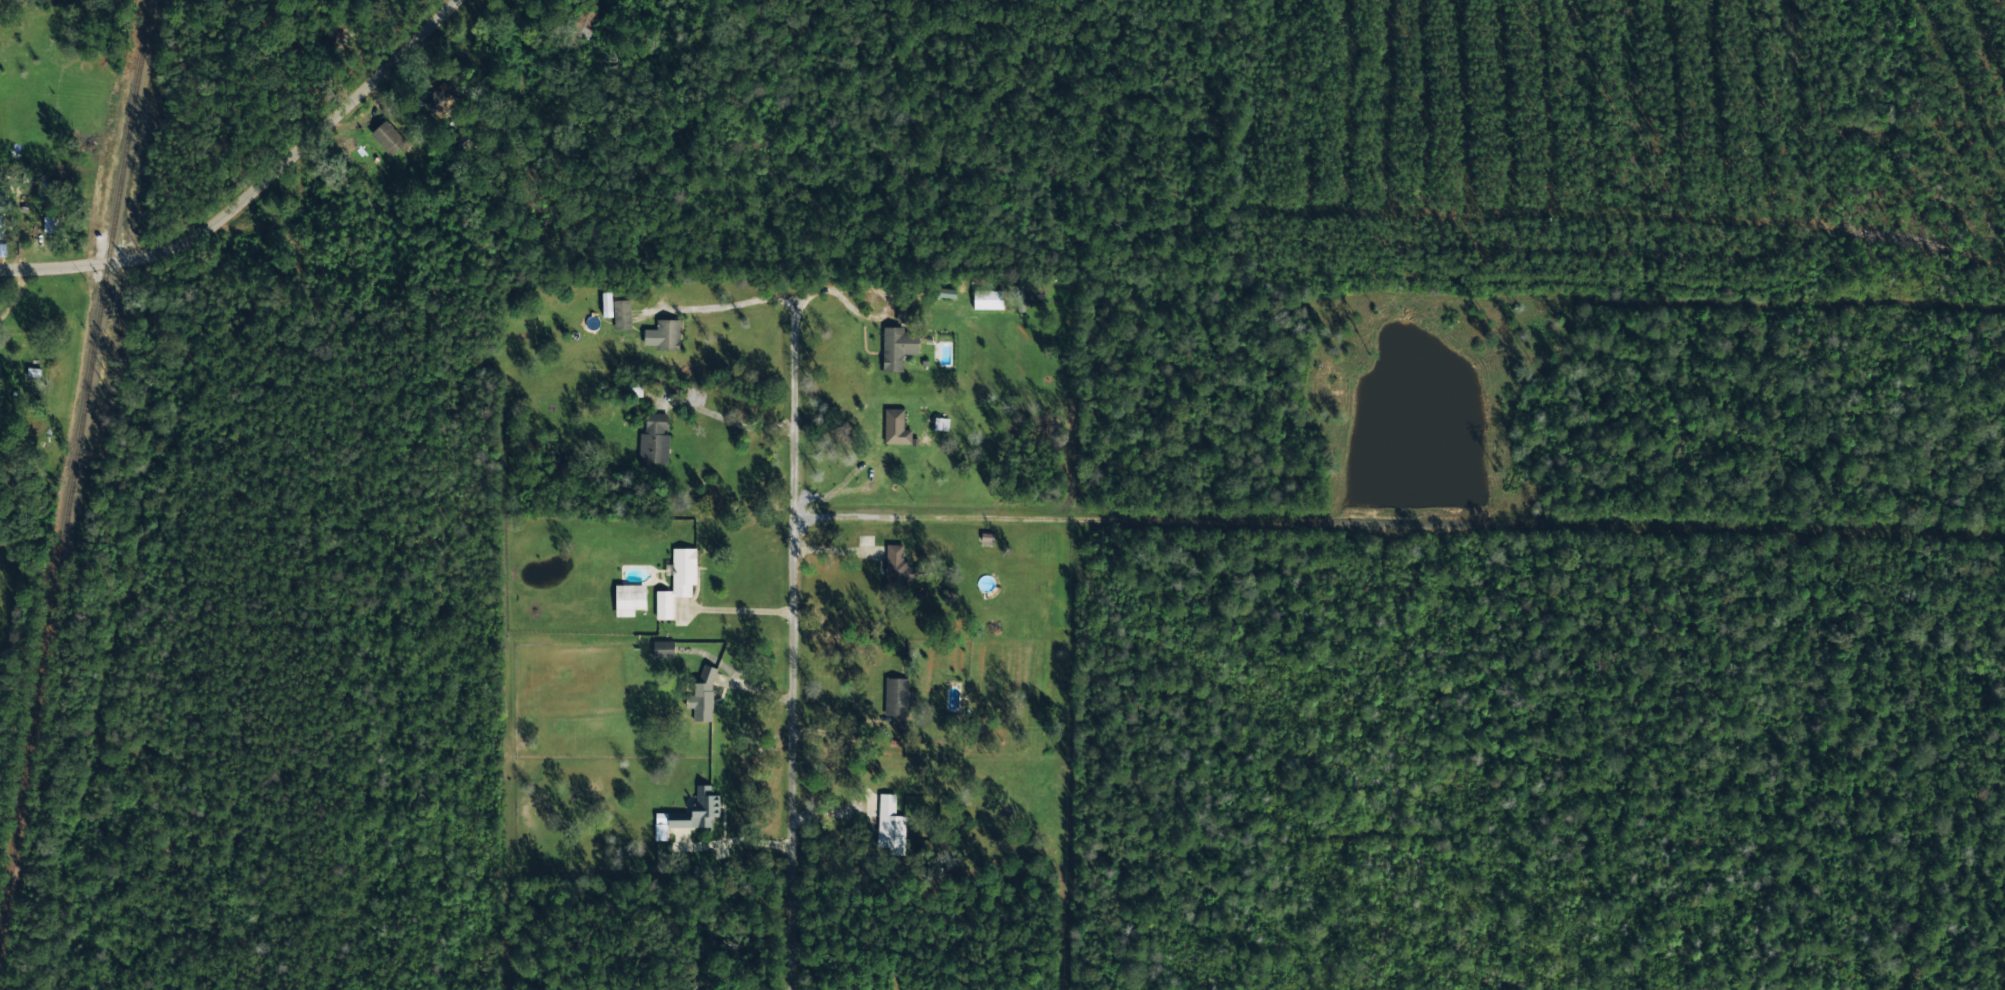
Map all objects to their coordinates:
road: (460, 77)
building: (387, 138)
road: (251, 200)
building: (1, 218)
building: (987, 299)
building: (606, 300)
building: (621, 313)
building: (903, 314)
building: (663, 333)
building: (897, 346)
building: (0, 370)
building: (895, 426)
building: (654, 438)
railway: (73, 457)
building: (899, 564)
road: (819, 569)
building: (677, 579)
building: (629, 598)
building: (663, 648)
building: (703, 694)
building: (897, 700)
road: (814, 796)
building: (688, 814)
building: (890, 824)

